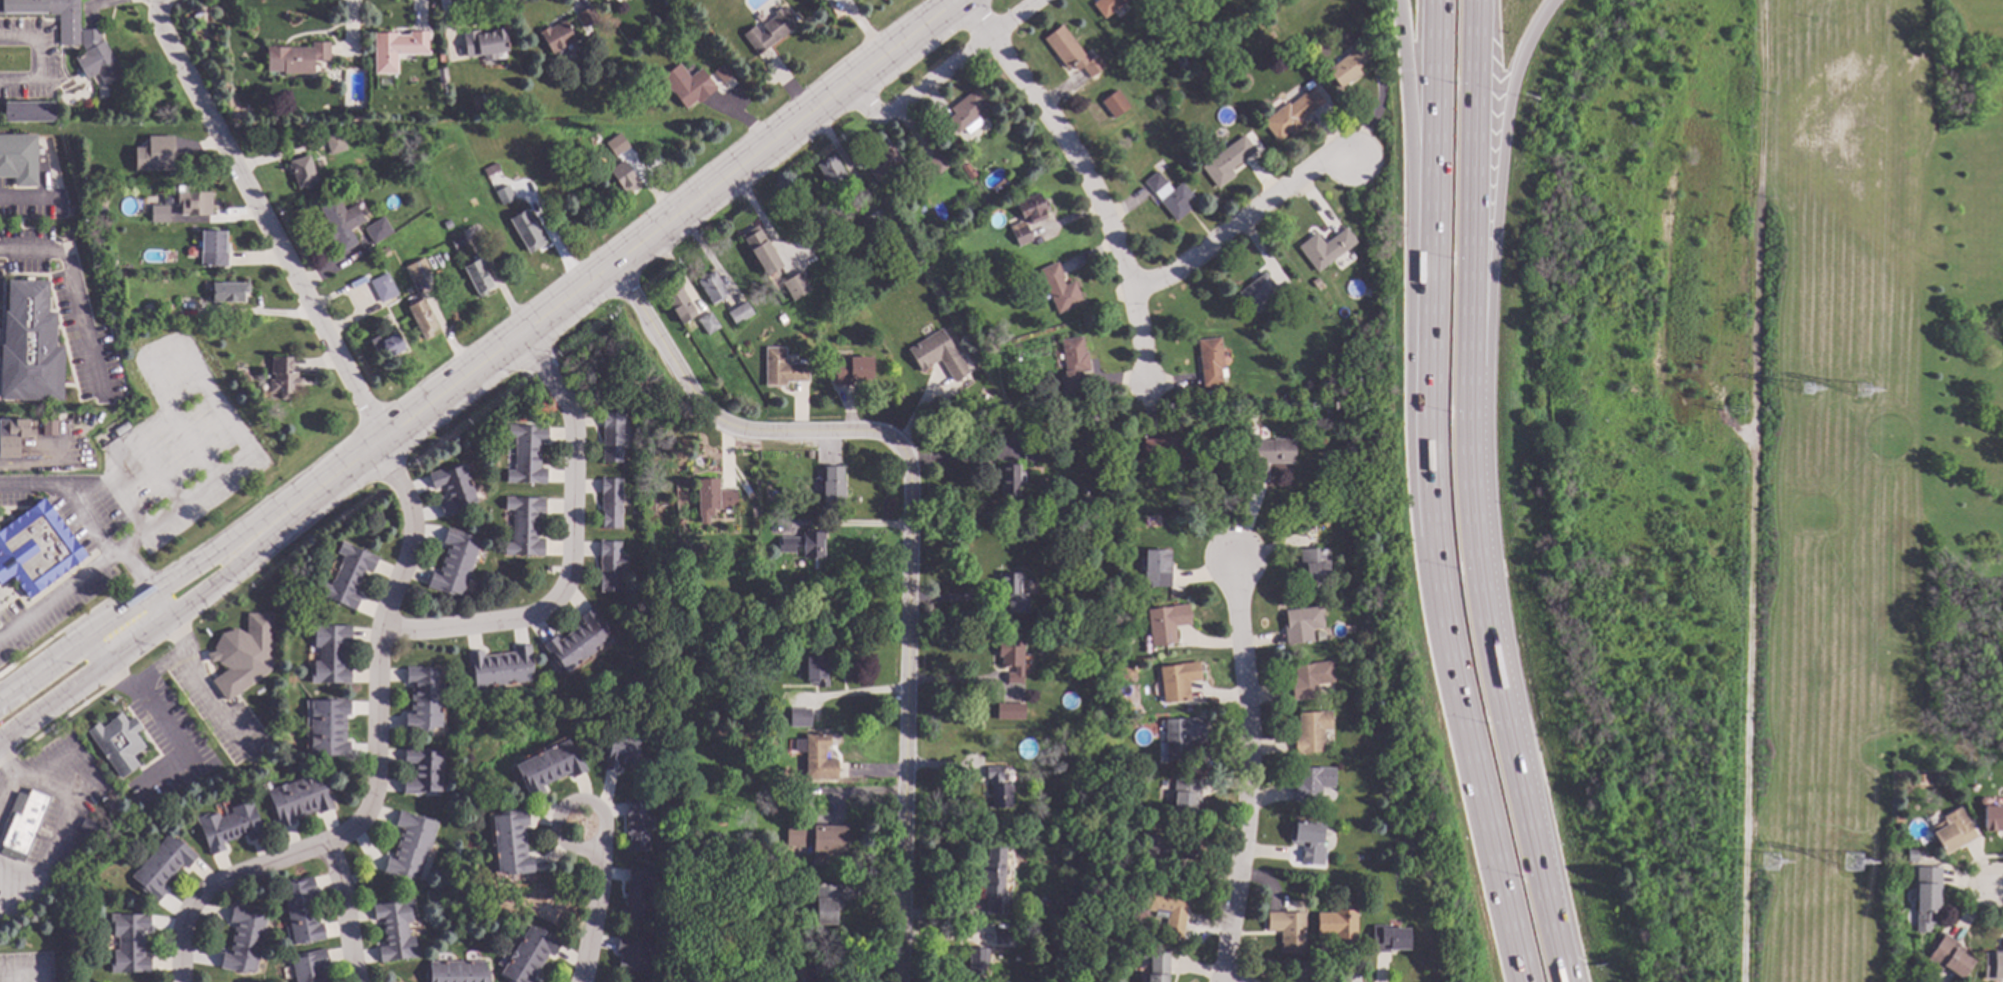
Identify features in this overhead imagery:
building: (605, 0)
building: (1107, 6)
building: (587, 18)
building: (1205, 30)
building: (68, 31)
building: (769, 31)
building: (557, 38)
building: (484, 44)
building: (397, 49)
building: (1072, 53)
building: (96, 59)
building: (296, 59)
building: (440, 59)
building: (1351, 65)
road: (941, 73)
building: (721, 74)
building: (441, 76)
building: (687, 86)
building: (615, 102)
building: (1115, 105)
building: (230, 108)
building: (28, 112)
building: (966, 114)
building: (1292, 115)
building: (1242, 126)
road: (1413, 138)
building: (593, 140)
building: (618, 141)
building: (335, 143)
building: (155, 155)
building: (18, 159)
building: (1227, 162)
building: (882, 163)
building: (938, 163)
building: (490, 170)
building: (966, 170)
building: (830, 171)
building: (302, 173)
road: (1087, 174)
building: (499, 177)
building: (623, 179)
road: (1497, 187)
road: (1475, 193)
building: (504, 196)
building: (1170, 196)
building: (196, 204)
building: (102, 213)
building: (1029, 217)
building: (161, 218)
road: (262, 218)
building: (876, 220)
road: (1240, 220)
building: (338, 224)
building: (447, 225)
building: (377, 231)
building: (527, 232)
building: (754, 242)
building: (457, 243)
building: (213, 249)
building: (1326, 249)
building: (383, 253)
road: (618, 258)
building: (109, 264)
building: (417, 270)
building: (477, 278)
building: (361, 282)
building: (1315, 284)
building: (795, 286)
building: (711, 288)
building: (1059, 289)
building: (384, 291)
building: (1256, 291)
building: (228, 292)
building: (1288, 294)
road: (76, 295)
building: (678, 306)
building: (186, 307)
building: (739, 314)
building: (421, 319)
building: (781, 319)
building: (707, 324)
building: (1240, 337)
building: (29, 345)
building: (386, 345)
building: (937, 355)
building: (1210, 362)
building: (1072, 367)
building: (782, 369)
building: (851, 371)
building: (283, 378)
building: (1307, 386)
power tower: (1866, 390)
power tower: (1810, 394)
building: (1288, 398)
building: (1327, 417)
park: (1968, 417)
building: (49, 428)
building: (12, 437)
building: (611, 437)
building: (1169, 451)
building: (1030, 452)
building: (526, 454)
building: (1267, 457)
road: (959, 460)
building: (1012, 480)
building: (452, 490)
road: (1751, 490)
building: (833, 492)
building: (1085, 493)
road: (1429, 495)
building: (712, 498)
building: (610, 504)
building: (678, 523)
road: (906, 523)
building: (524, 527)
road: (94, 528)
building: (803, 546)
building: (35, 548)
building: (700, 549)
road: (570, 551)
building: (454, 564)
building: (610, 567)
building: (1315, 567)
building: (548, 569)
building: (1157, 569)
building: (347, 577)
building: (1013, 593)
road: (61, 596)
road: (137, 603)
building: (712, 612)
building: (1070, 617)
building: (1166, 625)
building: (1301, 626)
road: (144, 633)
building: (577, 642)
building: (329, 655)
building: (243, 656)
road: (172, 657)
building: (1011, 659)
road: (1501, 659)
road: (107, 664)
building: (499, 668)
building: (817, 672)
building: (1310, 680)
building: (1178, 681)
road: (11, 688)
building: (1116, 690)
building: (423, 699)
building: (1009, 711)
building: (1377, 712)
building: (796, 717)
building: (328, 729)
building: (1311, 732)
building: (1181, 737)
building: (118, 744)
building: (770, 744)
building: (620, 753)
building: (817, 758)
road: (374, 761)
building: (1110, 762)
building: (548, 767)
building: (421, 772)
road: (1249, 772)
road: (11, 774)
building: (1312, 784)
building: (998, 789)
building: (789, 792)
building: (1186, 797)
building: (298, 800)
road: (565, 805)
building: (1390, 809)
building: (1992, 818)
building: (1897, 821)
building: (24, 825)
building: (229, 827)
building: (637, 827)
building: (87, 828)
building: (1952, 834)
building: (511, 843)
building: (818, 843)
building: (1309, 843)
building: (410, 847)
building: (1080, 849)
building: (1165, 852)
building: (1911, 856)
power tower: (1770, 864)
power tower: (1852, 866)
building: (161, 868)
building: (355, 877)
building: (994, 882)
road: (2001, 889)
road: (1957, 890)
building: (637, 895)
building: (1360, 895)
building: (1926, 898)
building: (826, 904)
building: (1165, 905)
road: (345, 910)
building: (301, 912)
road: (592, 917)
building: (1339, 926)
building: (1134, 929)
building: (1288, 930)
building: (395, 932)
building: (998, 937)
building: (1390, 940)
building: (244, 941)
building: (129, 944)
road: (1572, 955)
building: (530, 956)
building: (633, 956)
building: (1949, 958)
building: (976, 963)
building: (736, 964)
building: (1994, 965)
building: (309, 967)
building: (1158, 967)
building: (817, 970)
building: (457, 972)
road: (23, 975)

